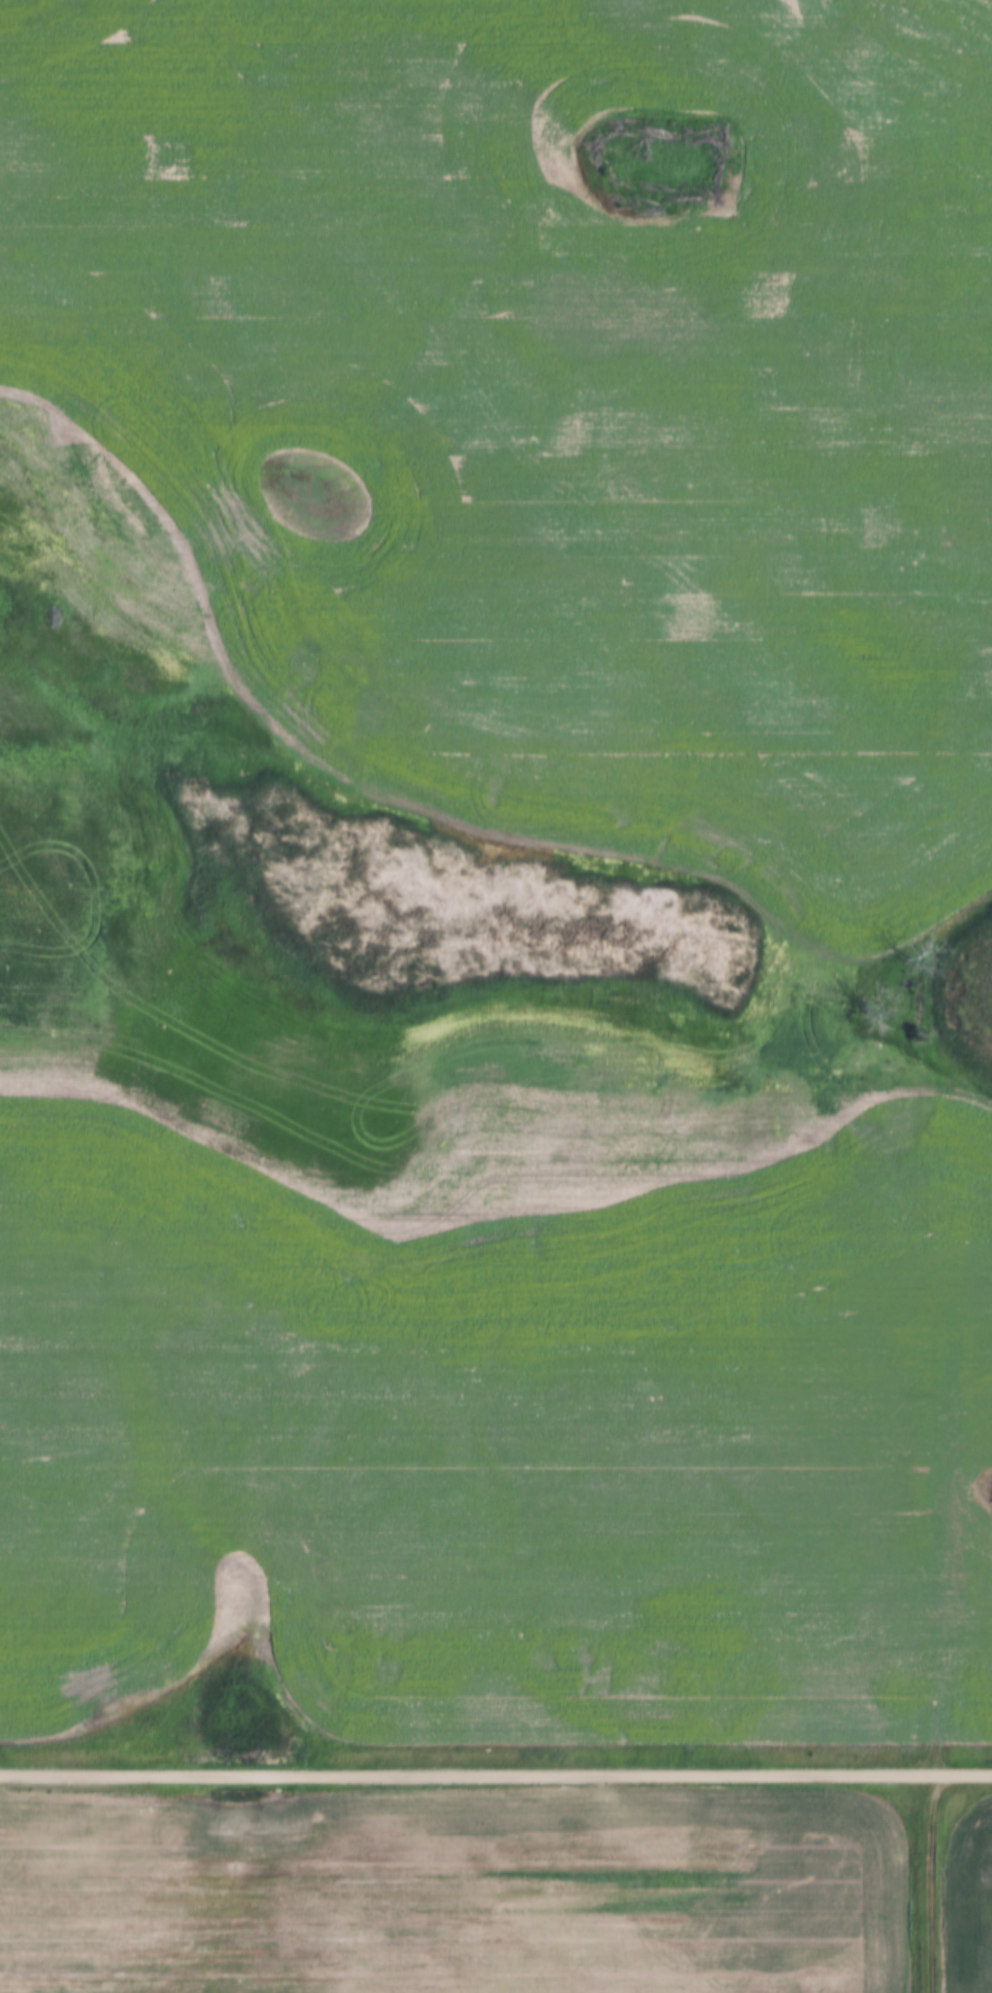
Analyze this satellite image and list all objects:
road: (495, 1777)

